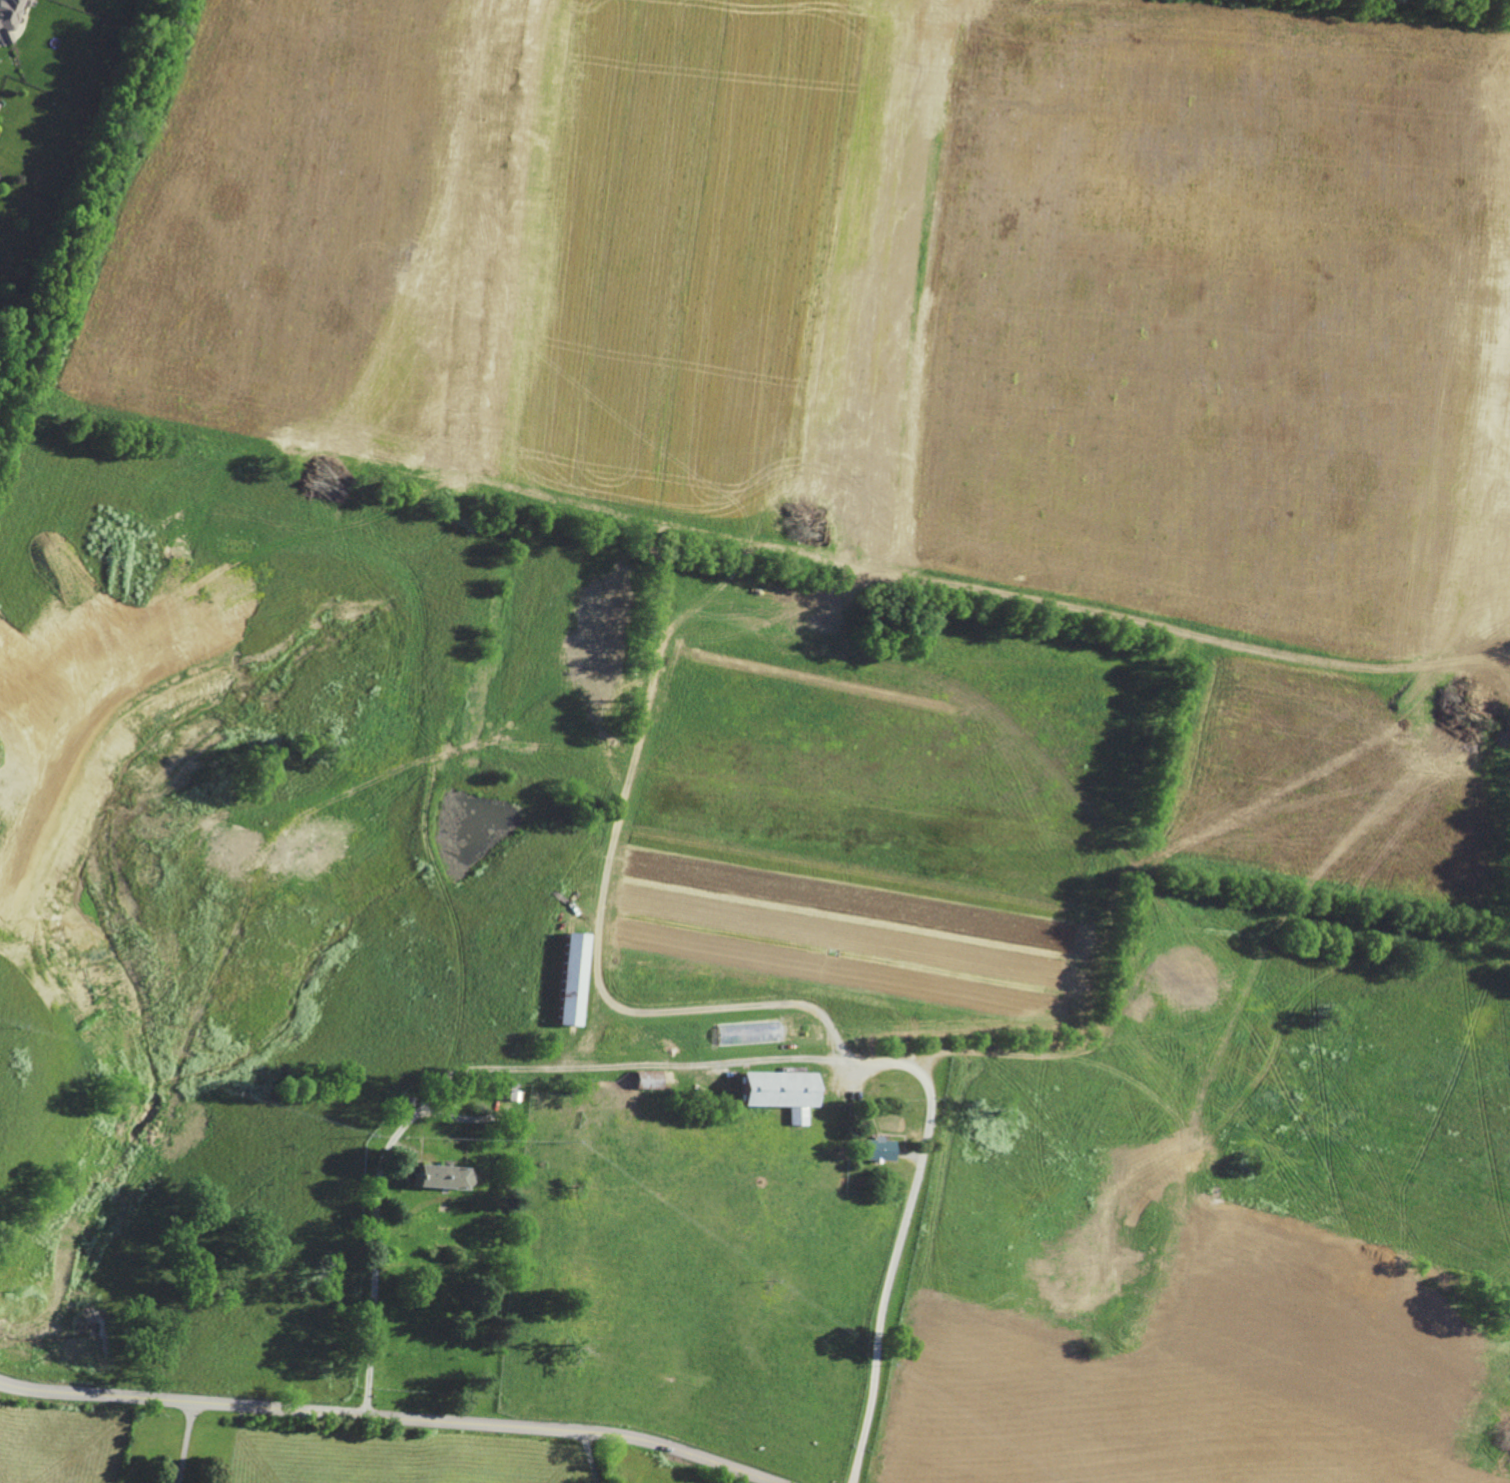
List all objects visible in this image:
building: (11, 17)
building: (0, 103)
building: (566, 1021)
road: (696, 1064)
road: (905, 1068)
building: (646, 1080)
building: (502, 1090)
building: (775, 1093)
building: (877, 1150)
building: (438, 1177)
road: (387, 1185)
road: (388, 1418)
road: (185, 1443)
road: (590, 1458)

